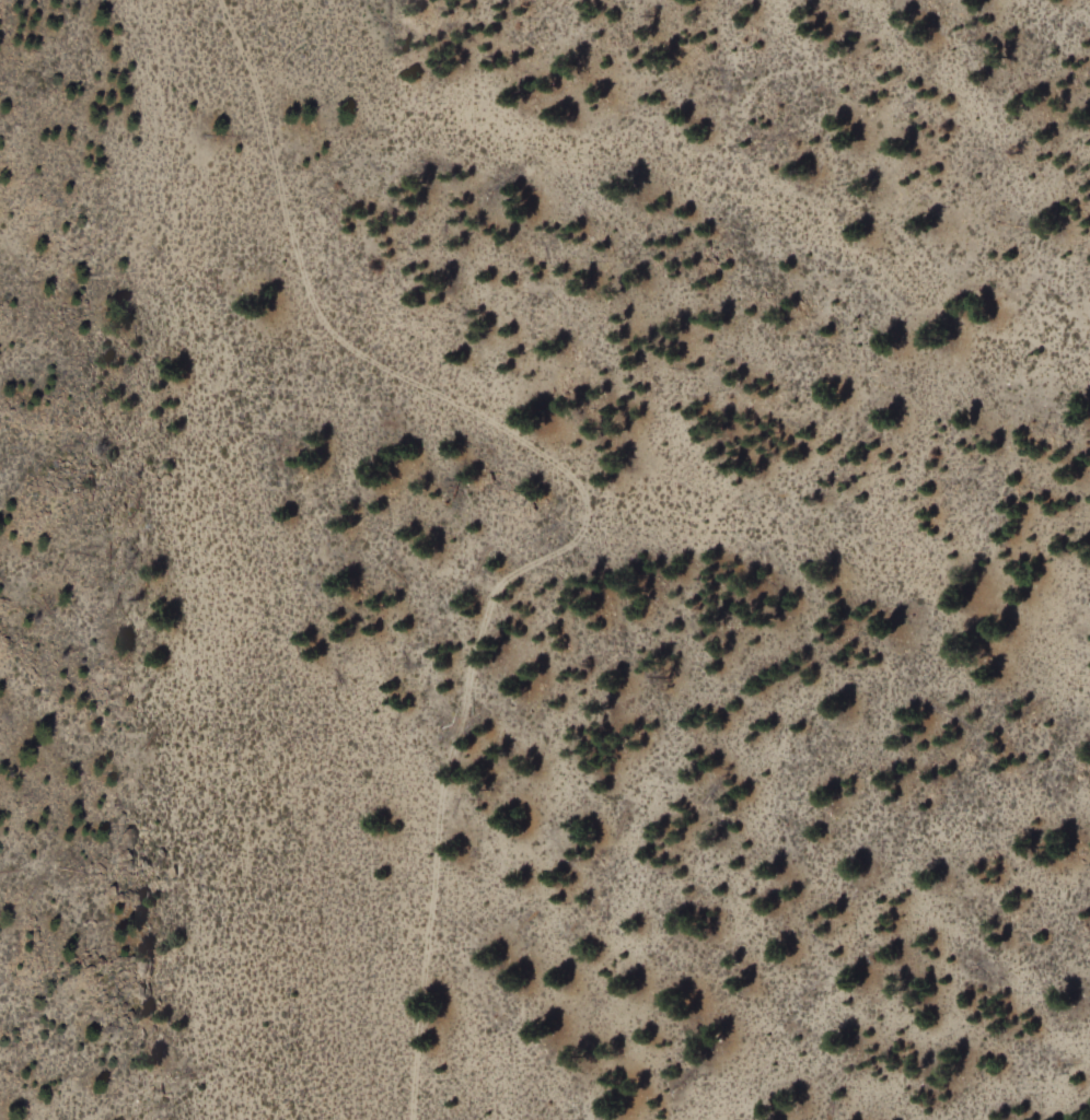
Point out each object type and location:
road: (1051, 9)
road: (549, 455)
road: (462, 777)

